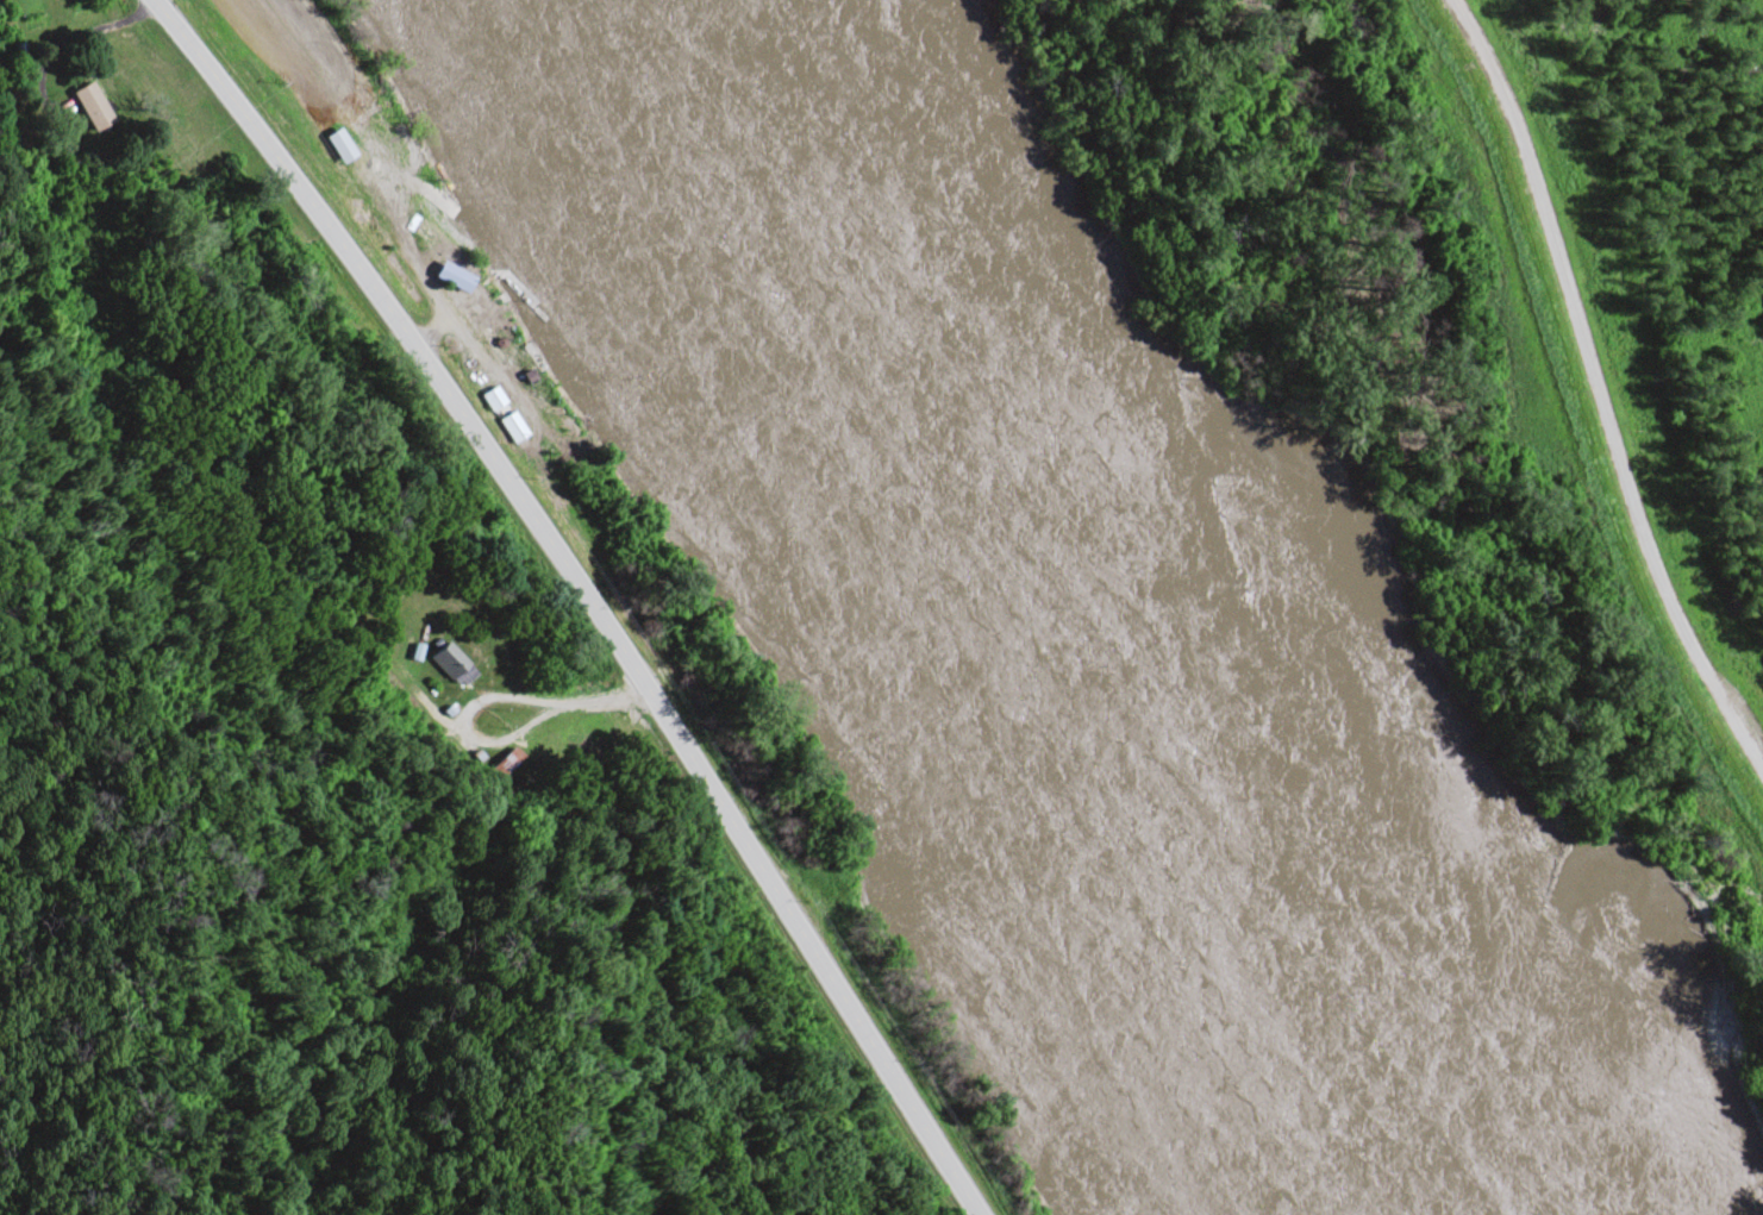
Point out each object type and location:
building: (86, 102)
building: (445, 273)
road: (1596, 393)
building: (488, 394)
building: (508, 422)
road: (588, 593)
river: (1042, 626)
building: (448, 659)
building: (489, 724)
building: (511, 758)

